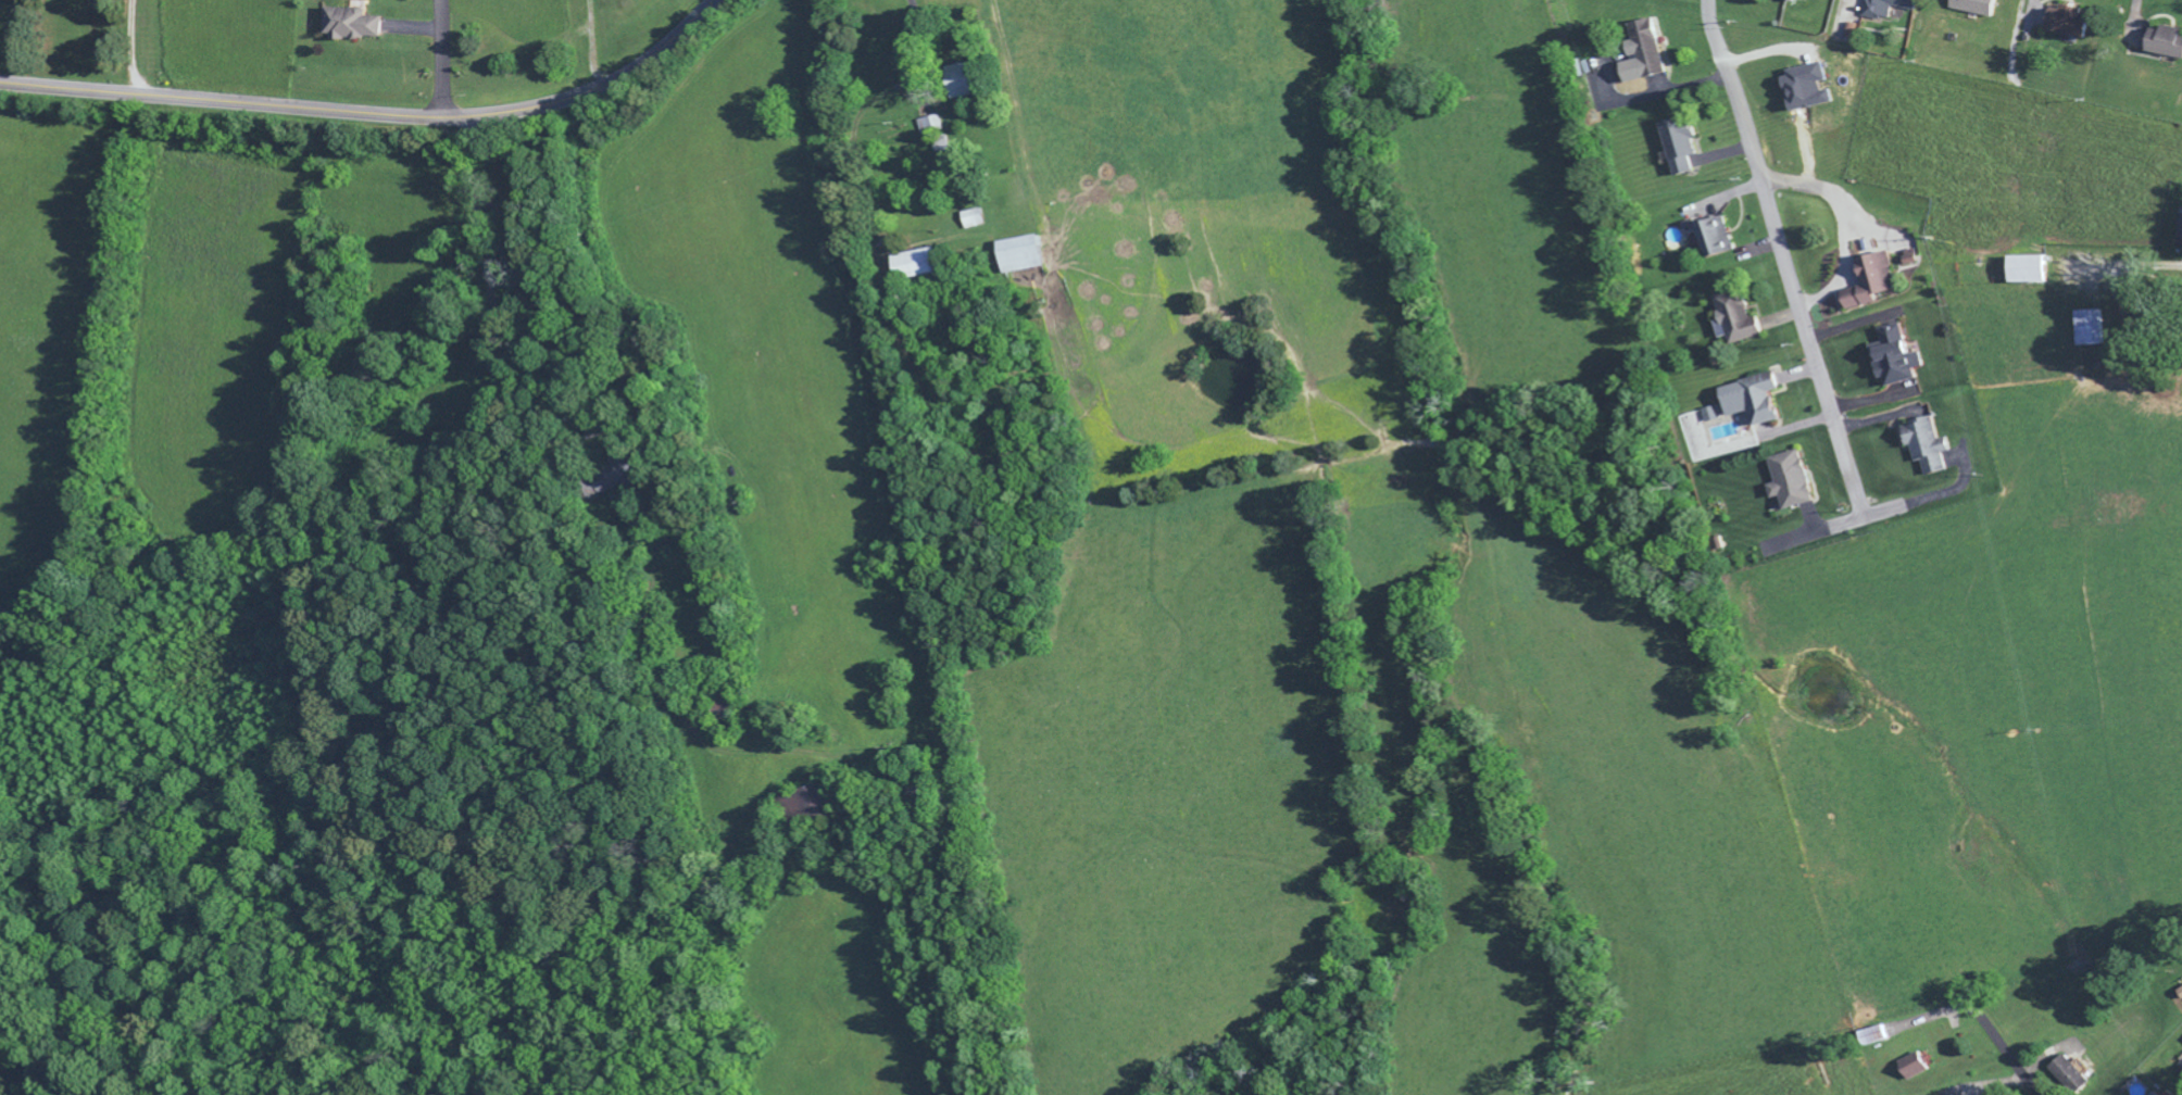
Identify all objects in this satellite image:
building: (1792, 1)
building: (1973, 8)
building: (1886, 9)
building: (2067, 24)
building: (351, 26)
building: (2165, 45)
building: (1642, 56)
road: (440, 58)
building: (960, 81)
building: (1805, 90)
road: (372, 112)
building: (928, 127)
building: (1678, 147)
building: (975, 222)
building: (1714, 240)
building: (1024, 256)
road: (1780, 261)
building: (1910, 262)
building: (920, 266)
building: (2028, 272)
building: (1871, 285)
building: (1735, 322)
building: (2089, 330)
building: (1894, 360)
building: (1753, 402)
building: (1709, 417)
building: (1924, 449)
building: (1789, 483)
building: (810, 806)
road: (2012, 1058)
building: (1915, 1069)
building: (2069, 1078)

